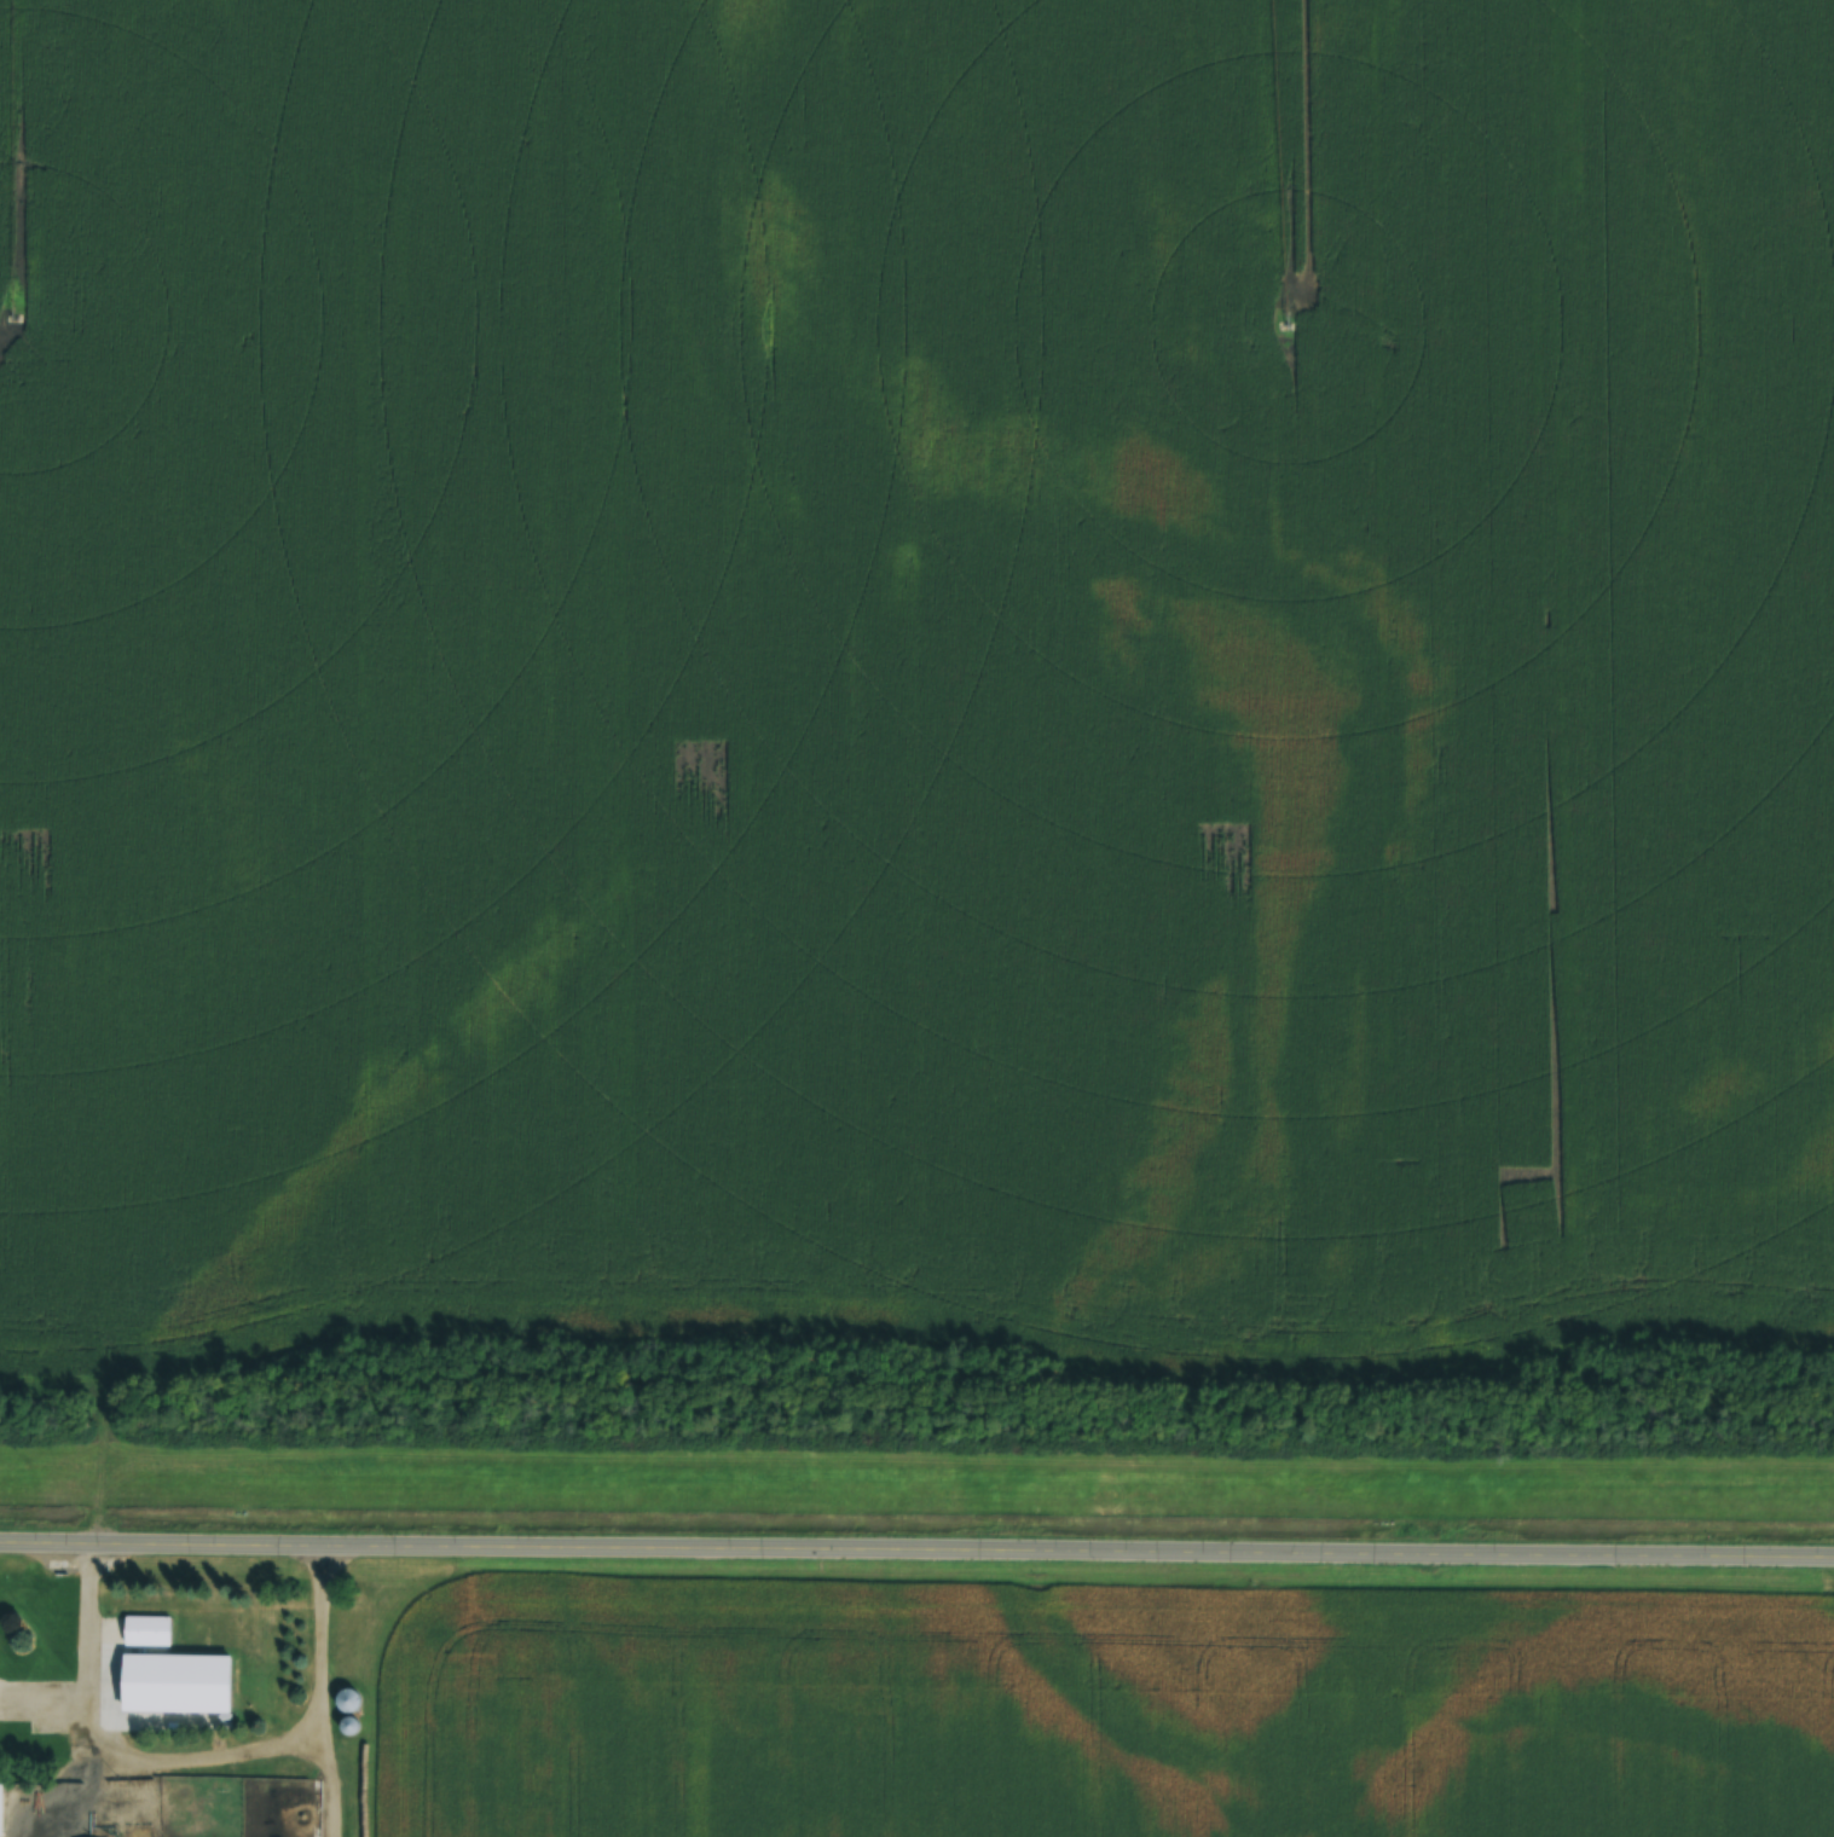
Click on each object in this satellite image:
road: (916, 1542)
building: (146, 1627)
building: (179, 1684)
building: (343, 1699)
crop: (1100, 1708)
building: (351, 1761)
building: (34, 1814)

